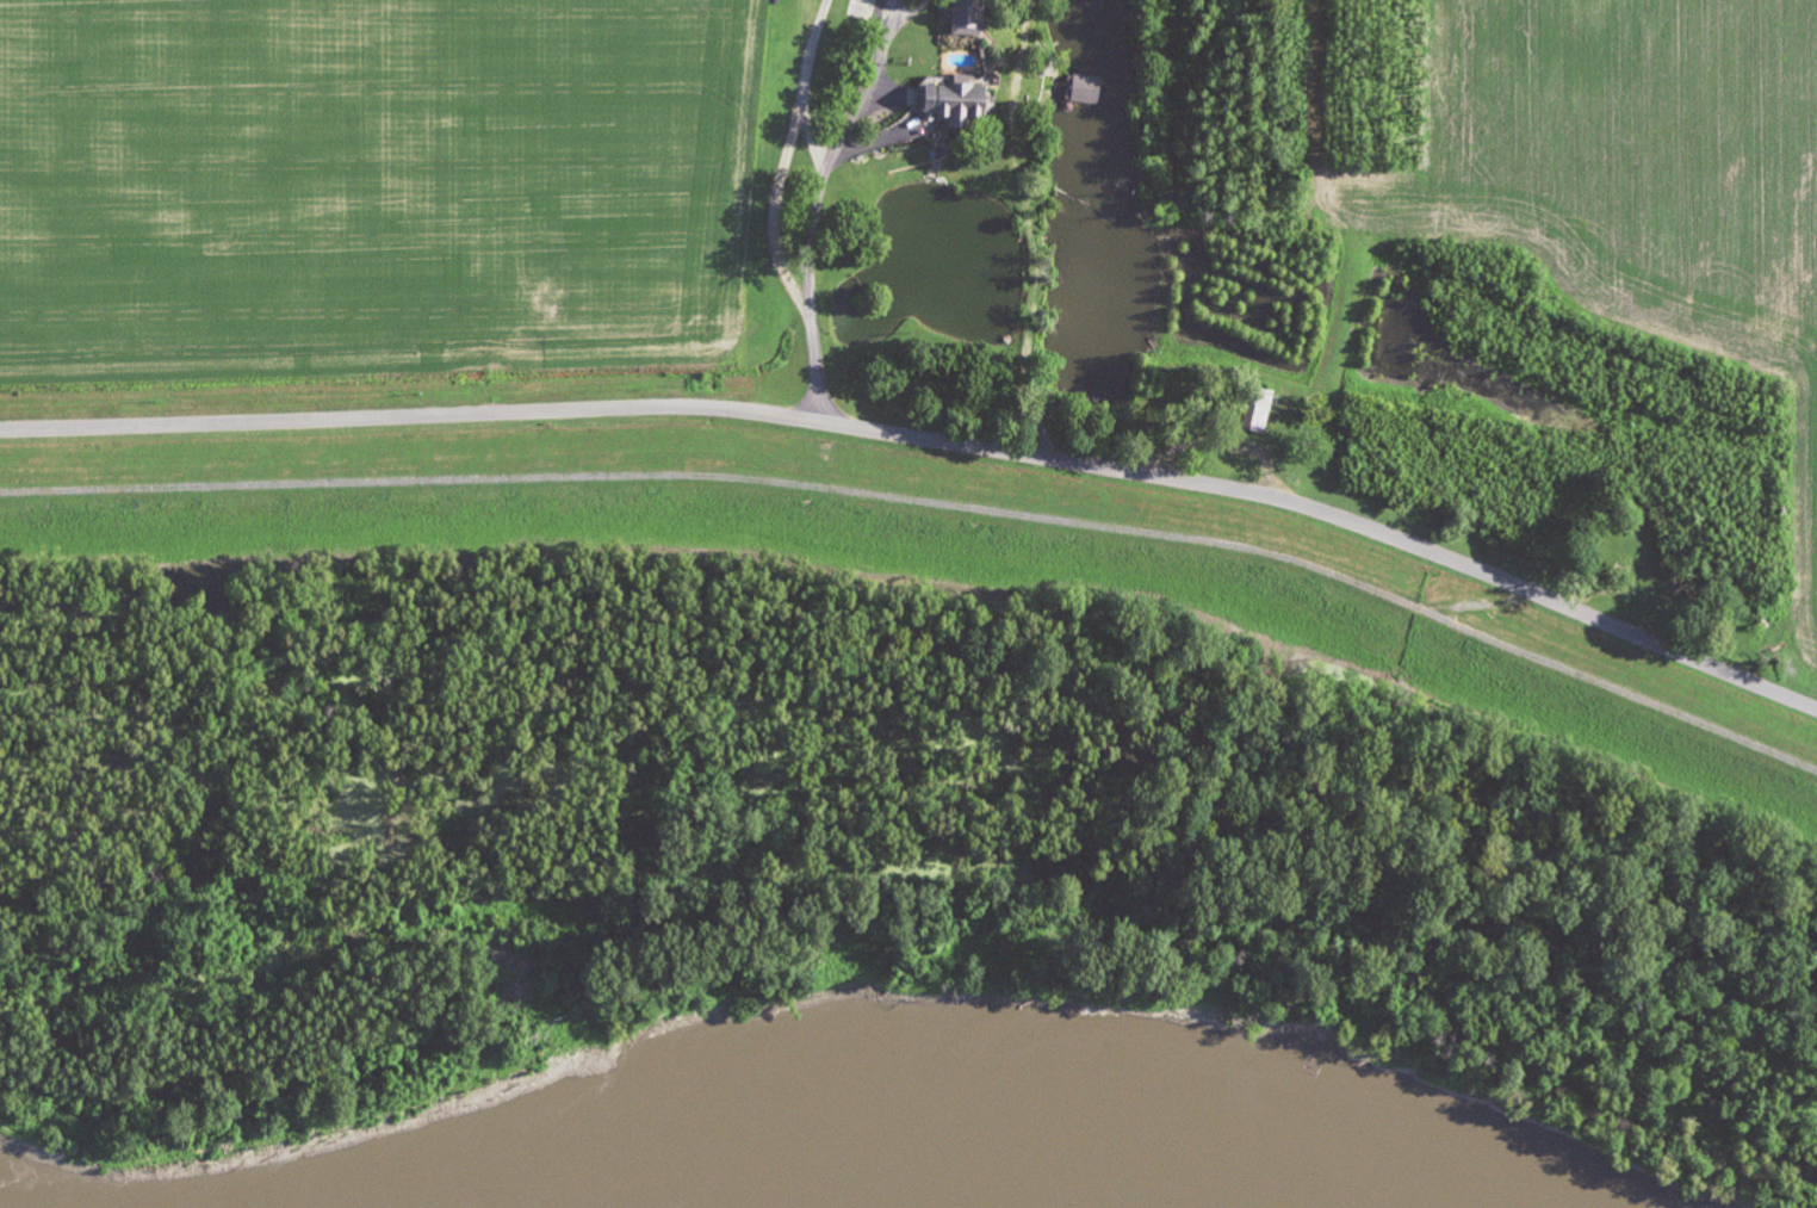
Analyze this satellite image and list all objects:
building: (974, 18)
building: (1089, 87)
building: (963, 95)
road: (817, 200)
road: (558, 408)
road: (930, 498)
road: (1469, 568)

